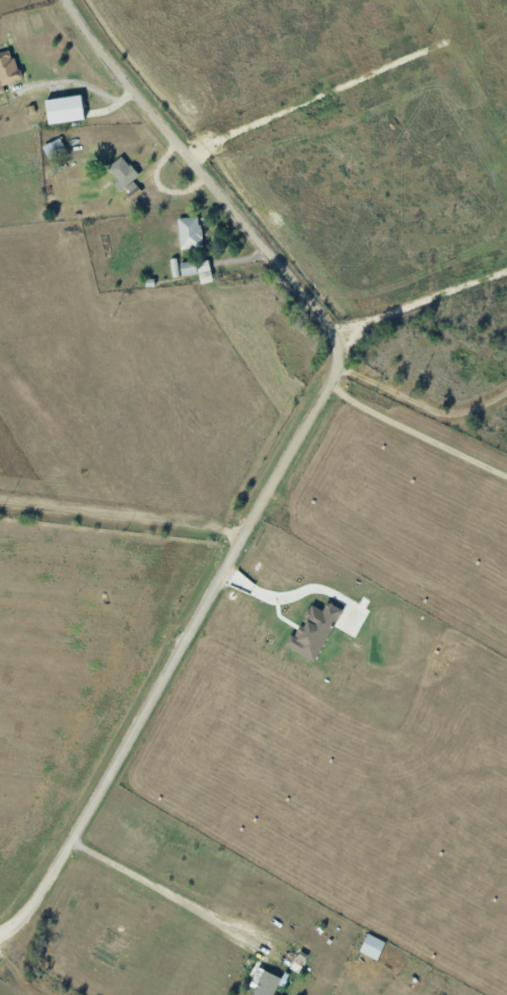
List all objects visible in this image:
building: (7, 69)
road: (80, 83)
building: (64, 109)
building: (122, 172)
building: (132, 192)
building: (189, 232)
road: (462, 416)
road: (417, 433)
road: (291, 454)
road: (121, 525)
building: (313, 631)
road: (164, 892)
building: (372, 946)
building: (264, 983)

